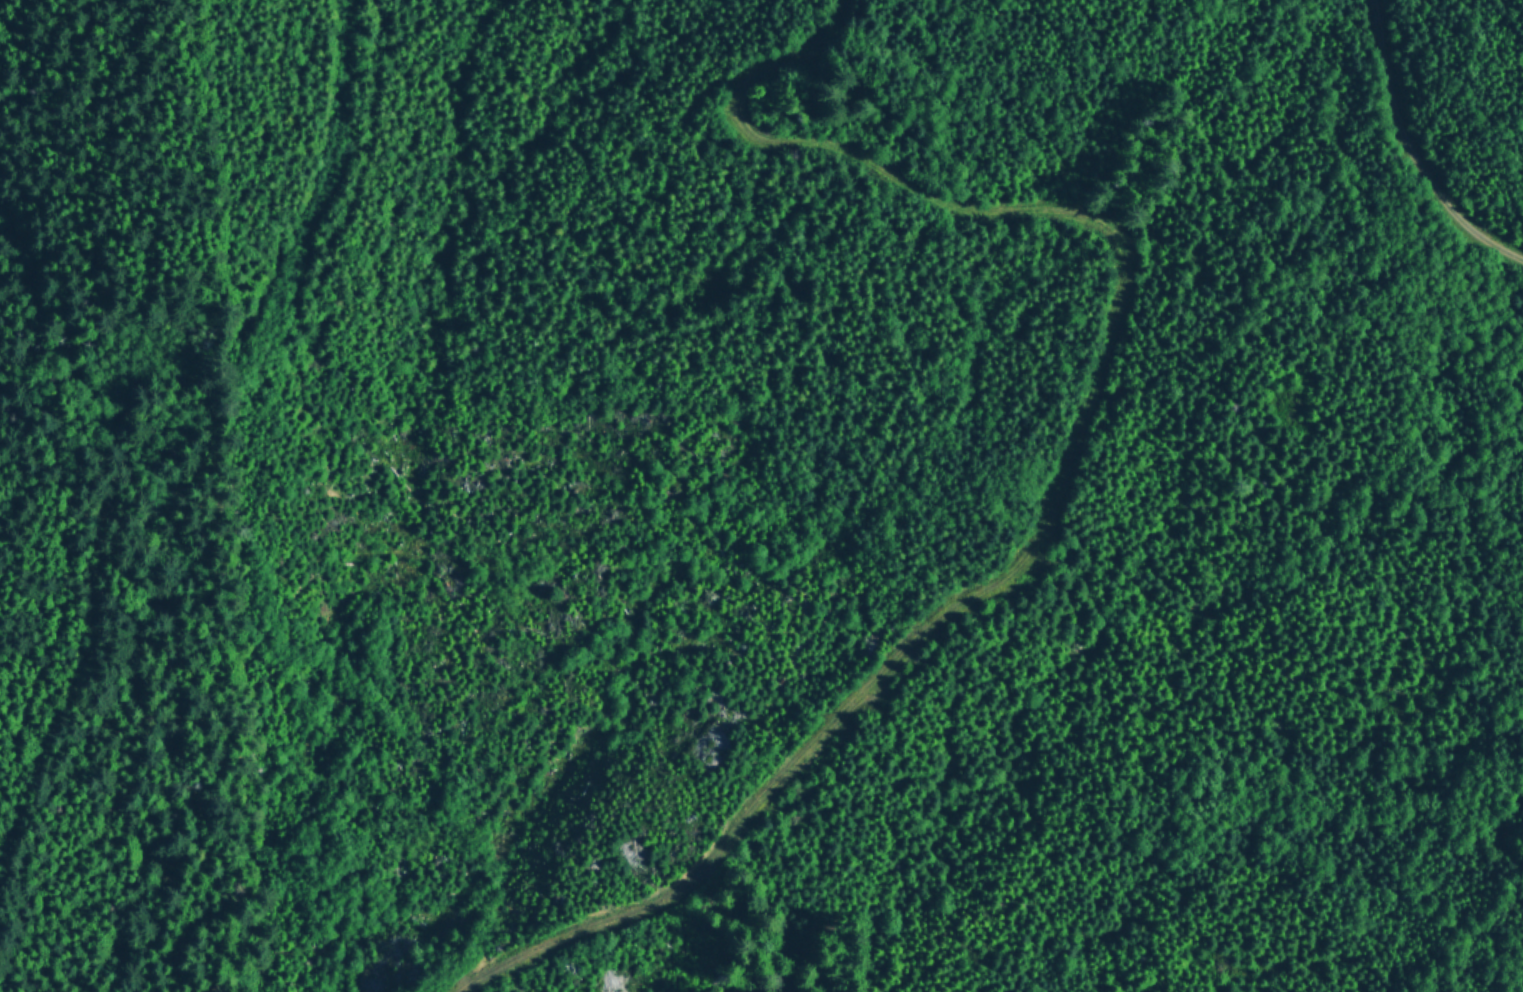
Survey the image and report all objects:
road: (1415, 148)
road: (128, 410)
road: (1070, 463)

